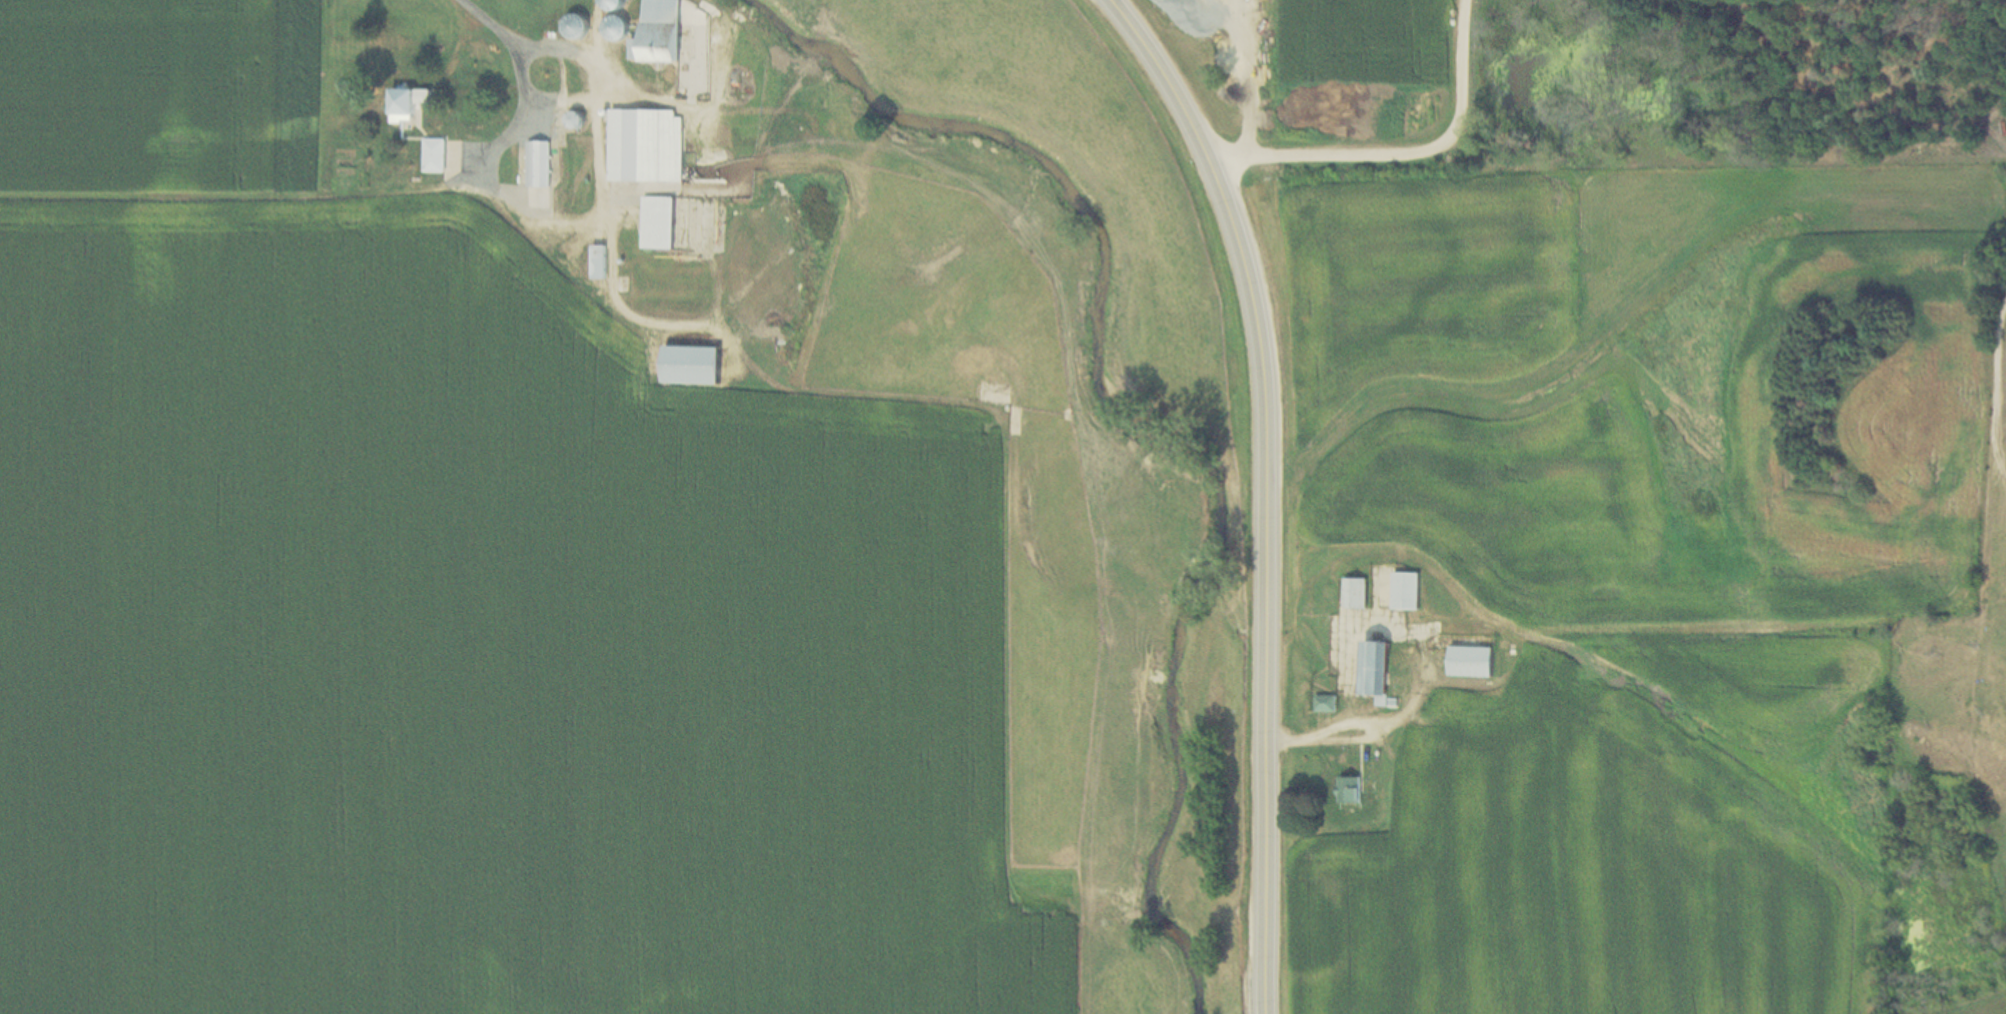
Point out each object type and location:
building: (627, 4)
building: (585, 27)
building: (670, 33)
road: (532, 47)
road: (1244, 66)
building: (418, 101)
building: (655, 145)
building: (443, 155)
road: (1404, 155)
building: (546, 183)
road: (541, 219)
building: (668, 222)
building: (992, 358)
building: (704, 364)
building: (975, 364)
road: (1267, 489)
building: (1410, 590)
building: (1360, 592)
building: (1475, 661)
building: (1379, 670)
building: (1327, 703)
building: (1451, 713)
building: (1353, 790)

